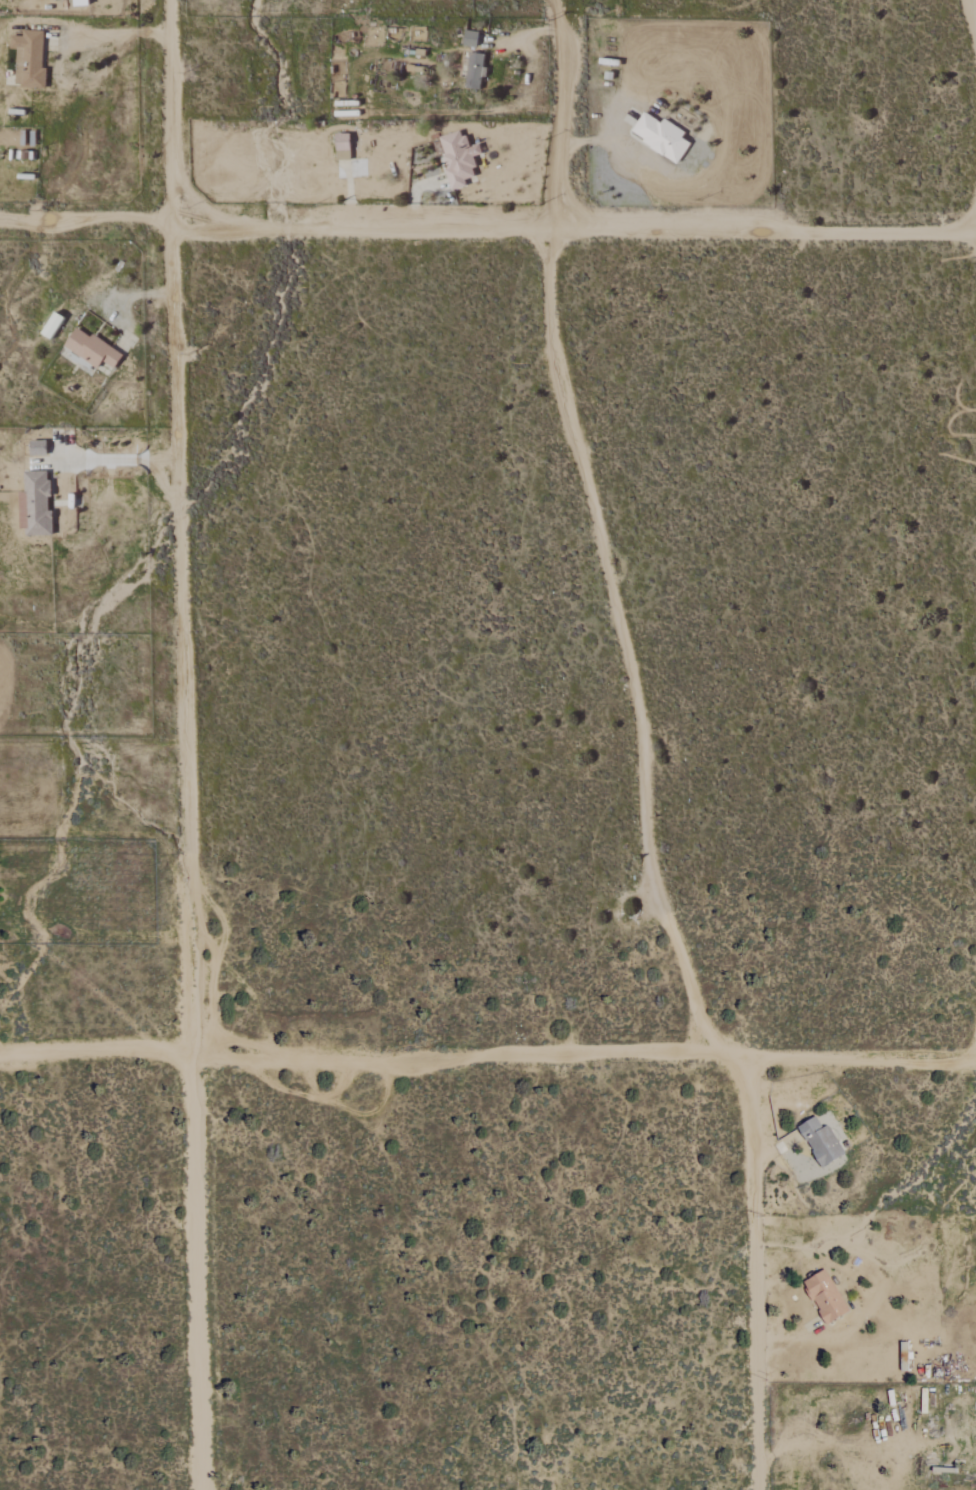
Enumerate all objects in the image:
building: (78, 3)
road: (116, 33)
building: (469, 39)
building: (28, 59)
building: (473, 71)
building: (660, 137)
building: (341, 147)
building: (457, 158)
road: (487, 232)
building: (50, 326)
building: (90, 349)
building: (36, 448)
road: (120, 461)
road: (185, 744)
road: (643, 753)
road: (488, 1055)
building: (820, 1142)
building: (824, 1296)
road: (842, 1445)

